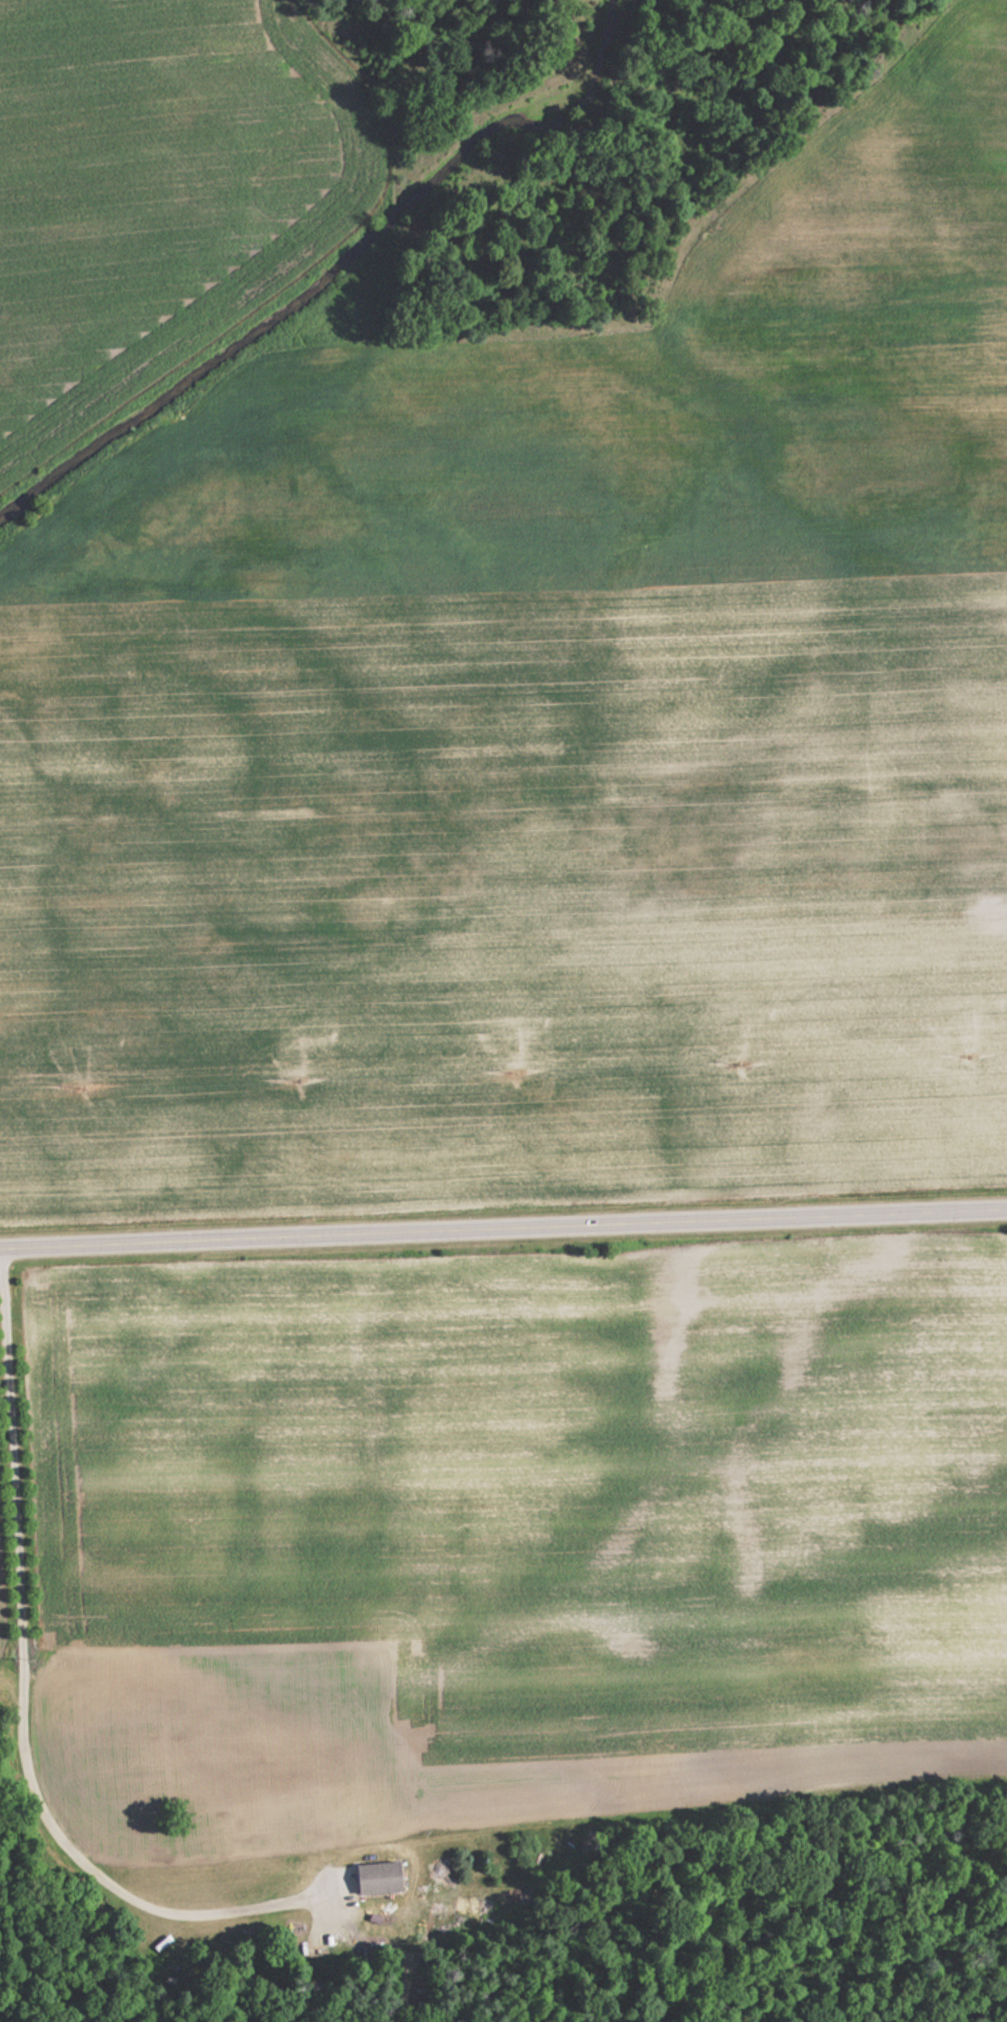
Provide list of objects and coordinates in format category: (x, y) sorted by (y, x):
road: (503, 1223)
building: (377, 1877)

